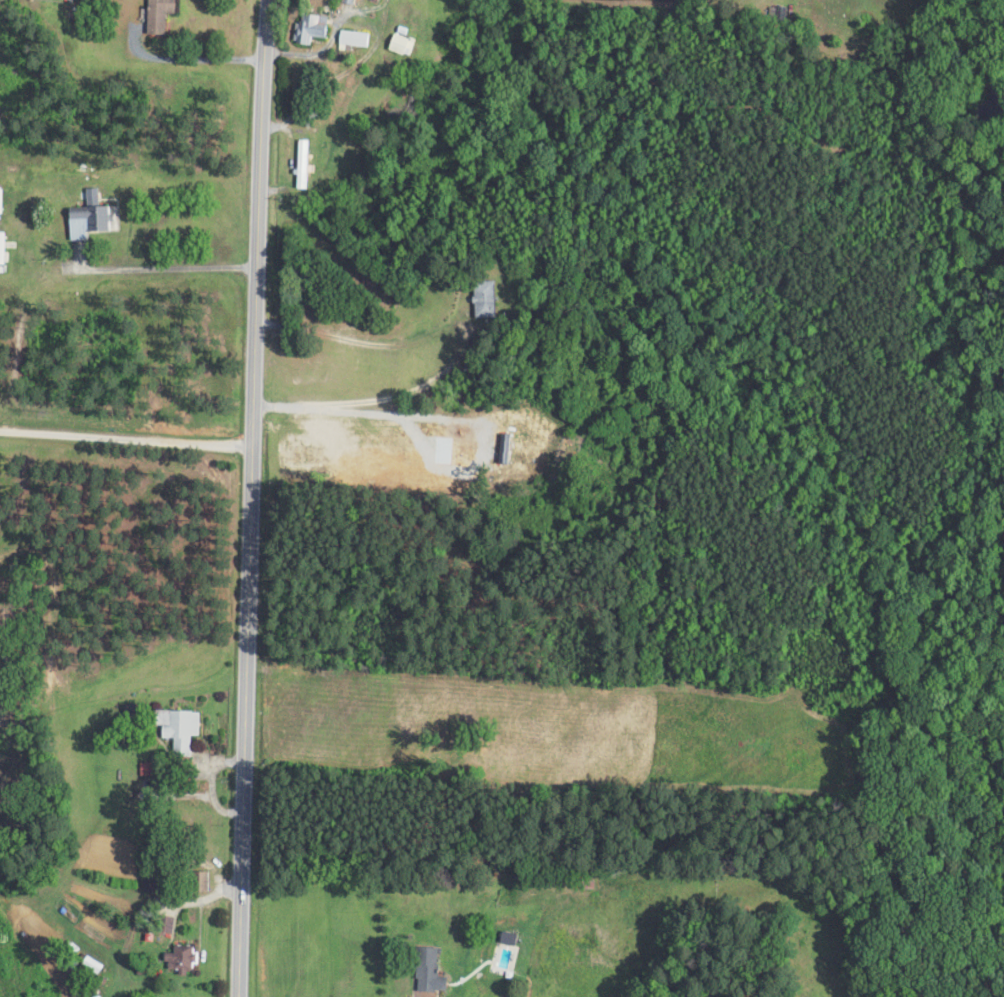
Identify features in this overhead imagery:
building: (160, 15)
building: (309, 29)
building: (354, 39)
building: (403, 45)
building: (306, 163)
building: (89, 221)
building: (486, 299)
road: (130, 432)
road: (258, 498)
building: (181, 729)
building: (201, 881)
building: (584, 882)
building: (167, 924)
building: (181, 960)
building: (426, 970)

